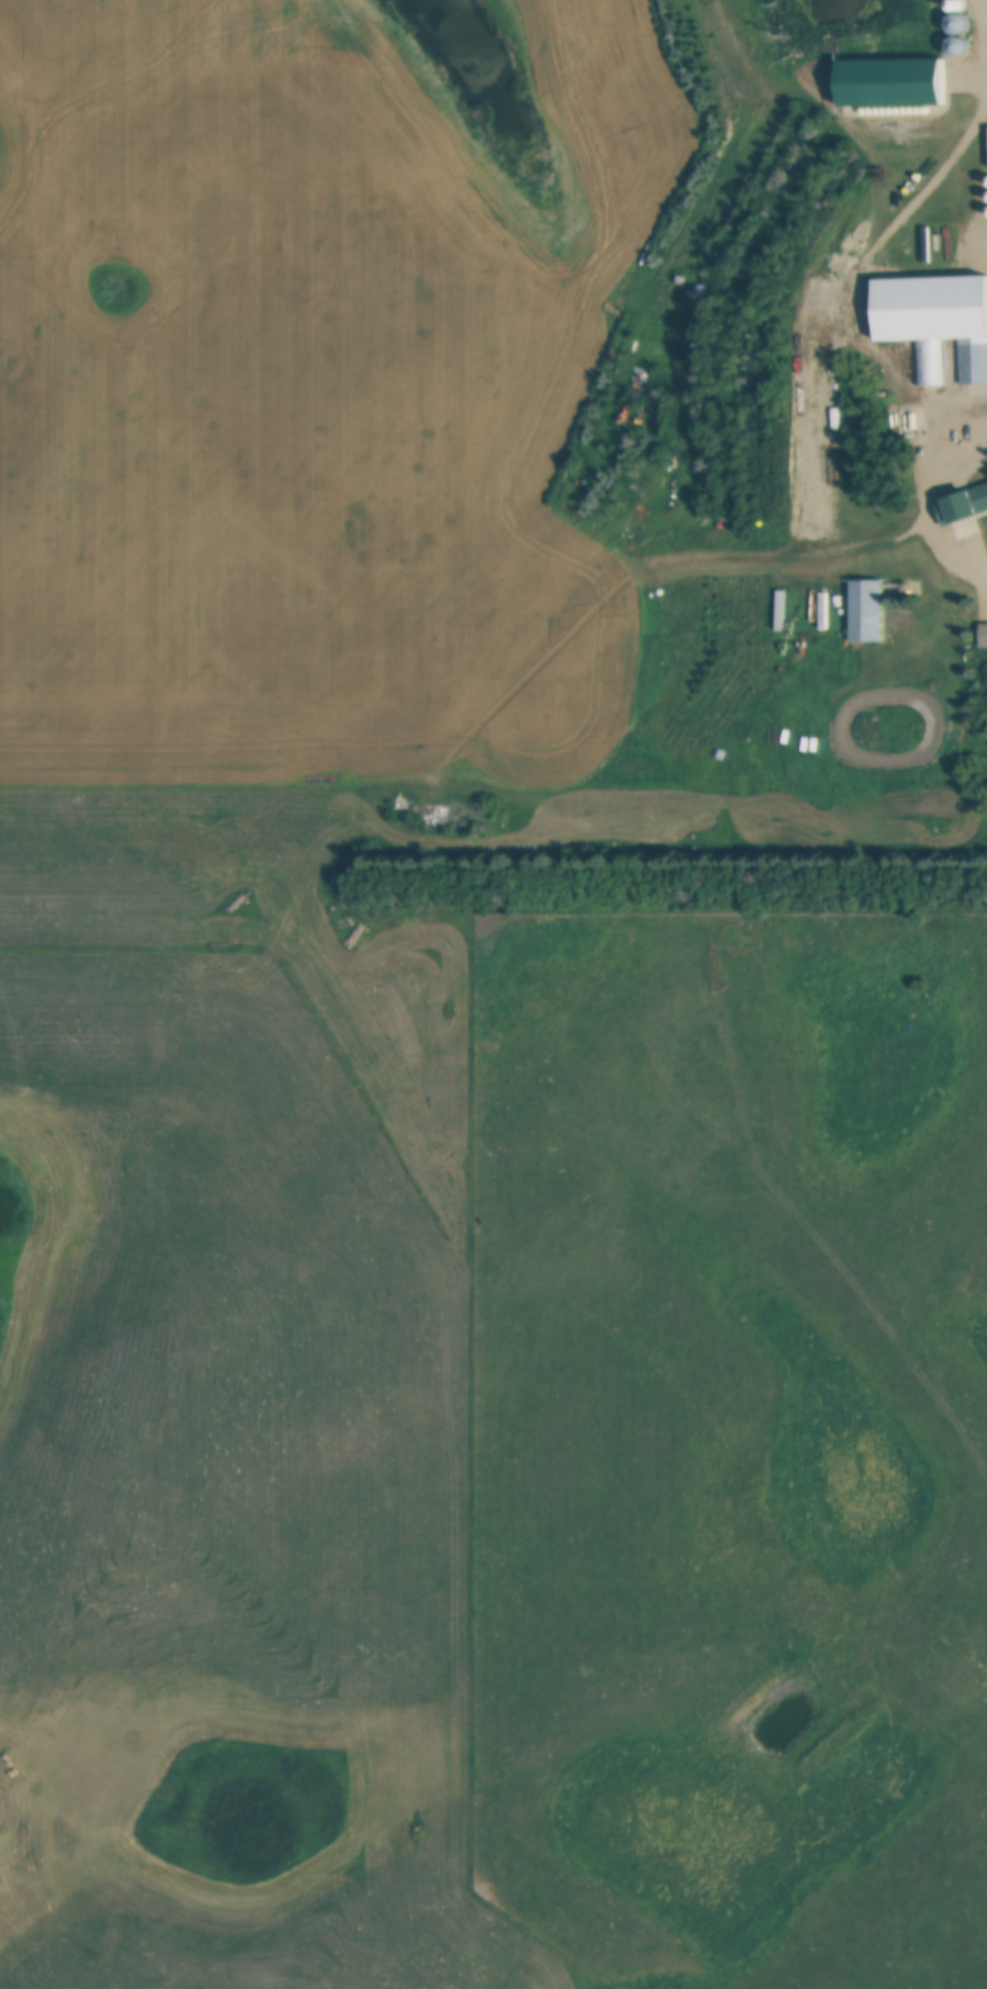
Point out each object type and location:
building: (901, 84)
building: (846, 317)
building: (926, 365)
building: (974, 365)
building: (971, 505)
road: (935, 519)
building: (871, 614)

